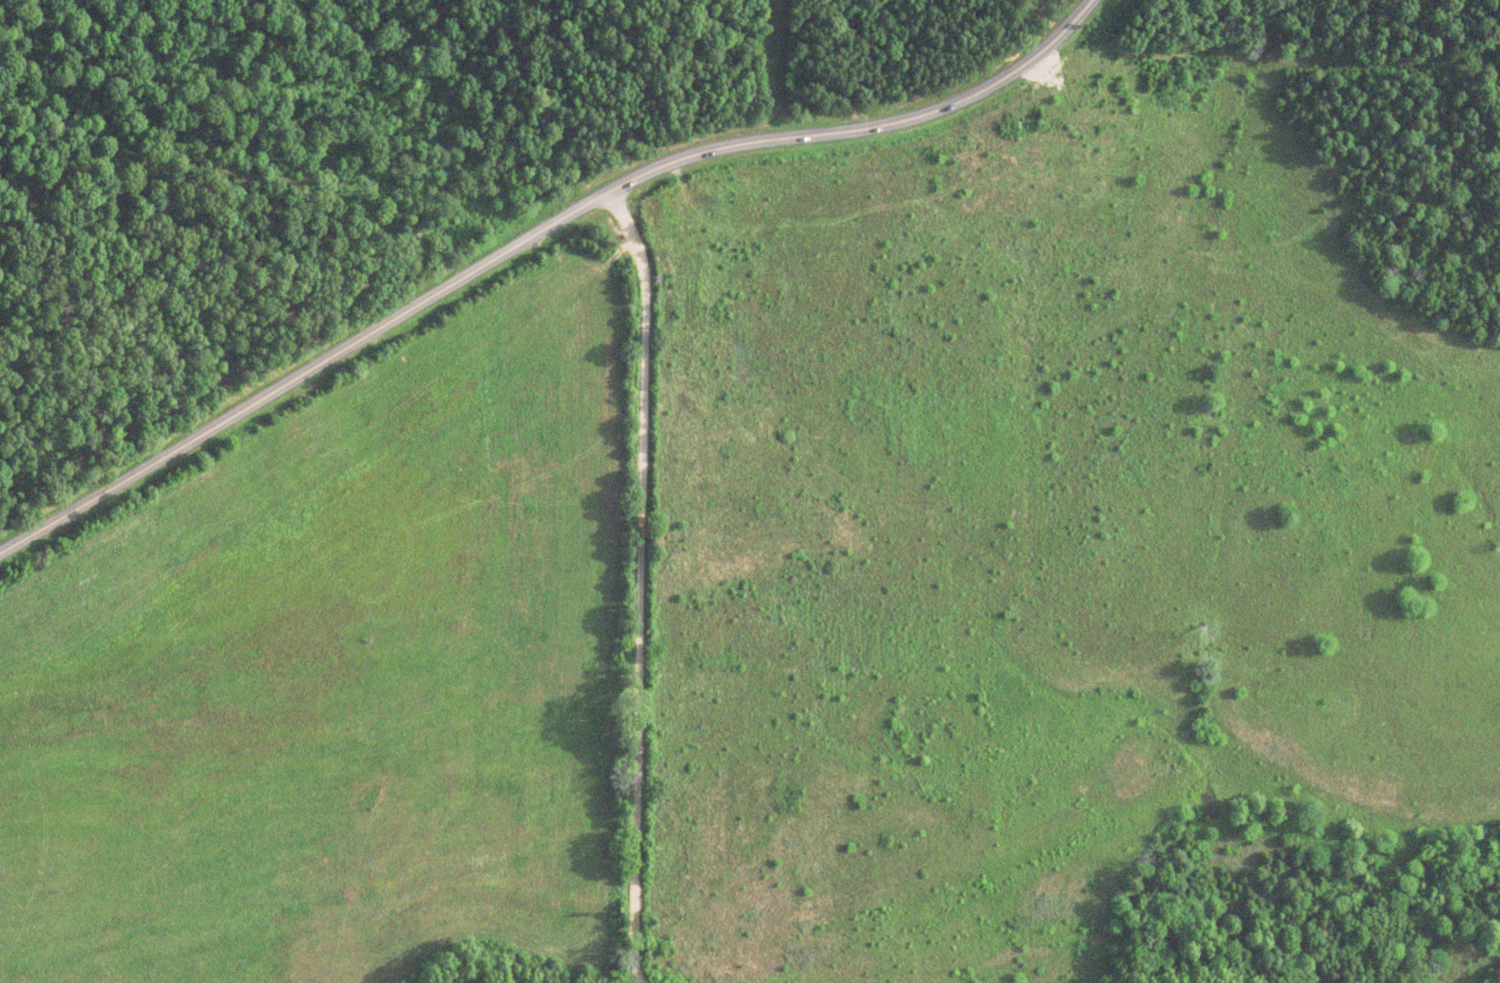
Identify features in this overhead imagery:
road: (533, 237)
road: (639, 585)

